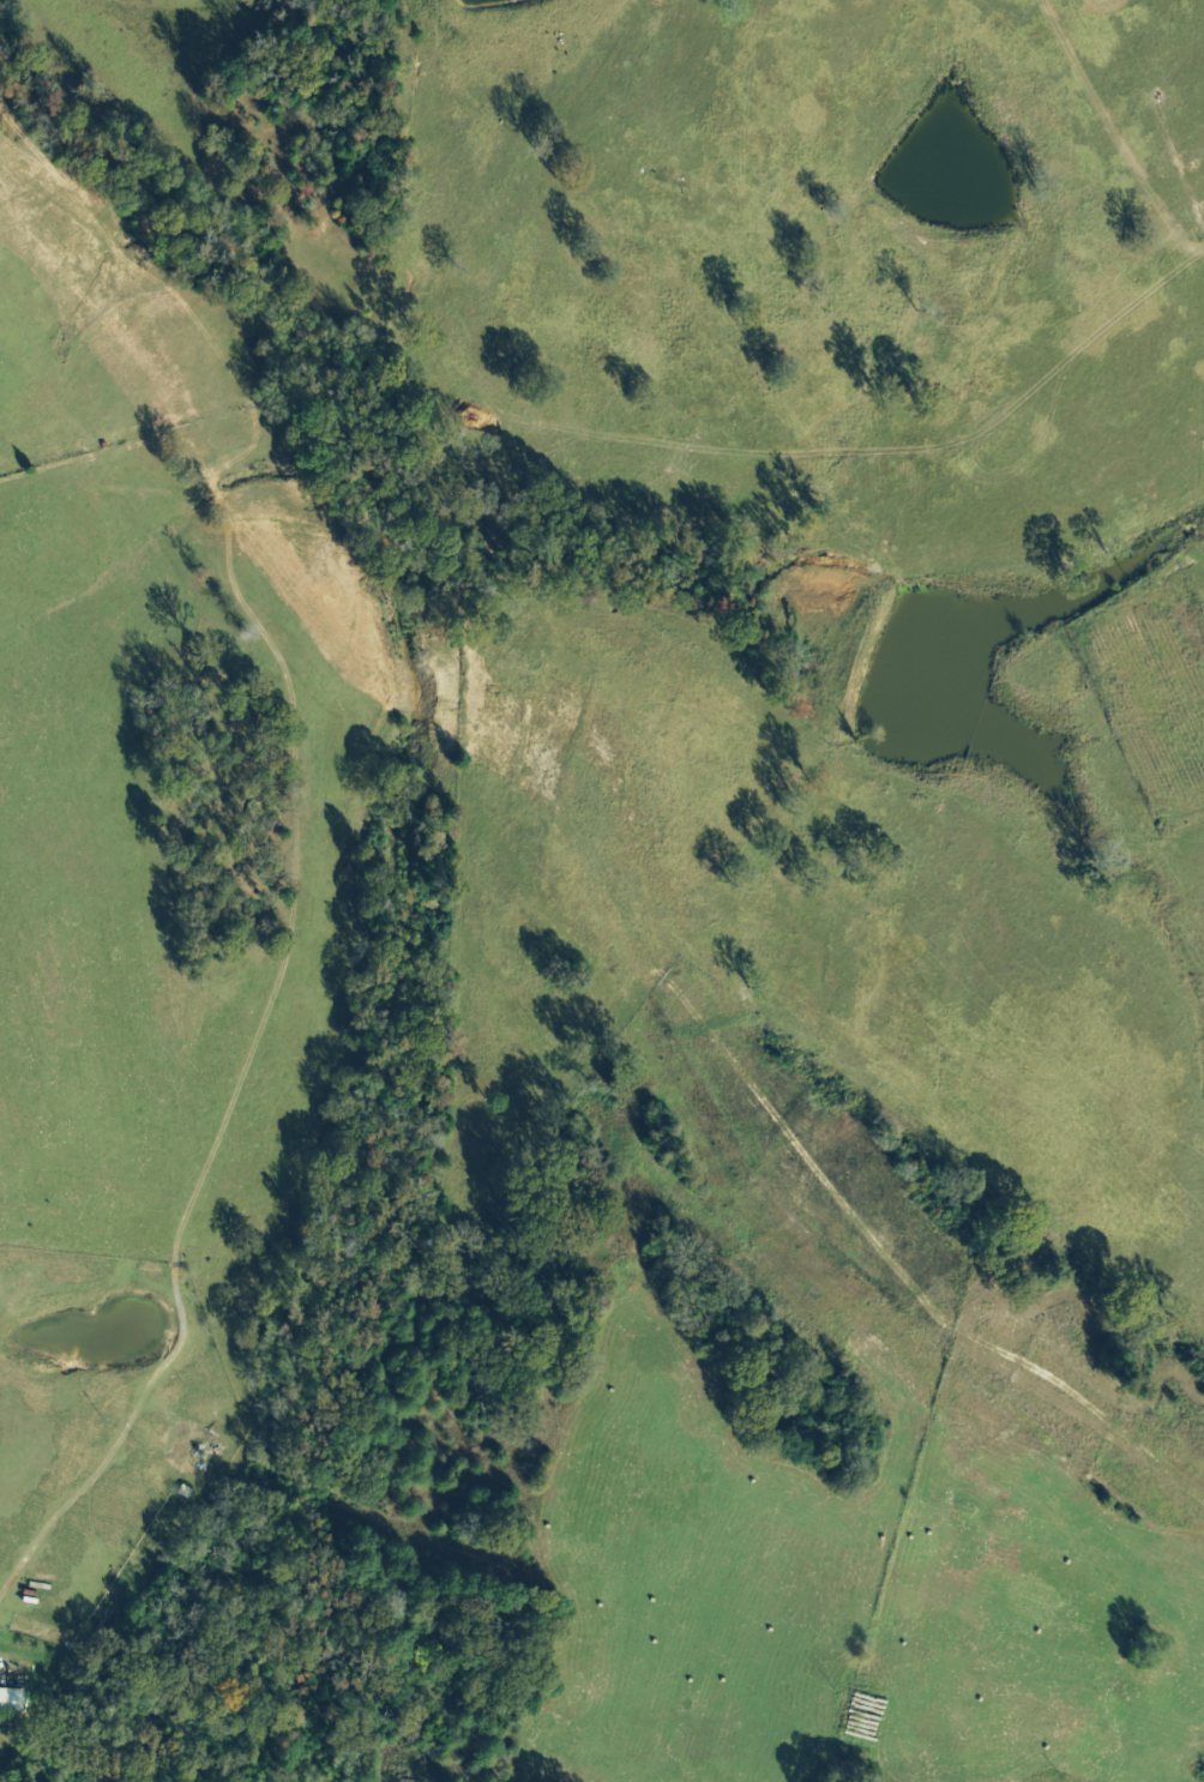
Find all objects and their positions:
building: (14, 1698)

